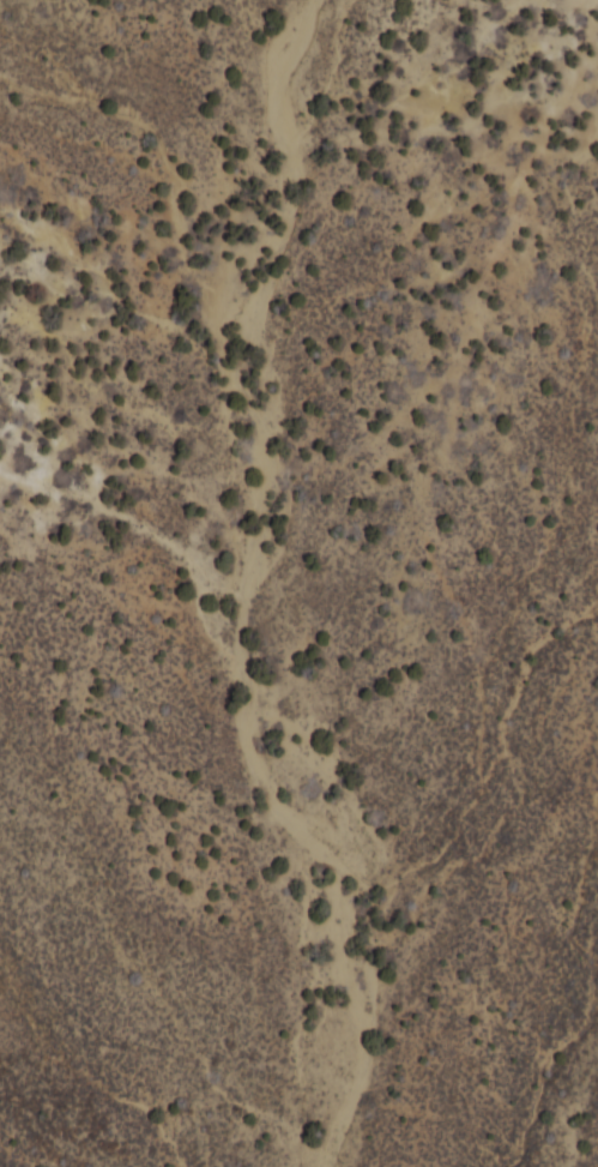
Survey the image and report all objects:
road: (65, 60)
river: (288, 805)

